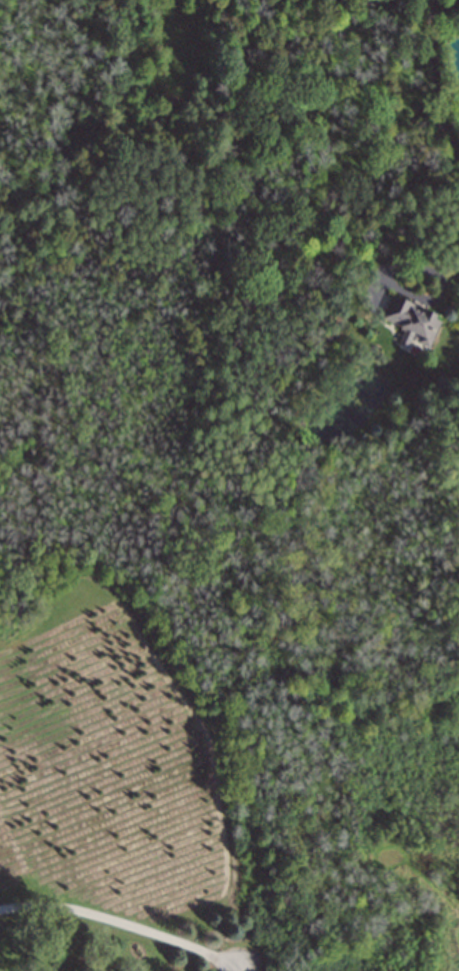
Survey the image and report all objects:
road: (431, 129)
road: (447, 140)
building: (410, 320)
park: (363, 876)
road: (120, 929)
road: (239, 968)

